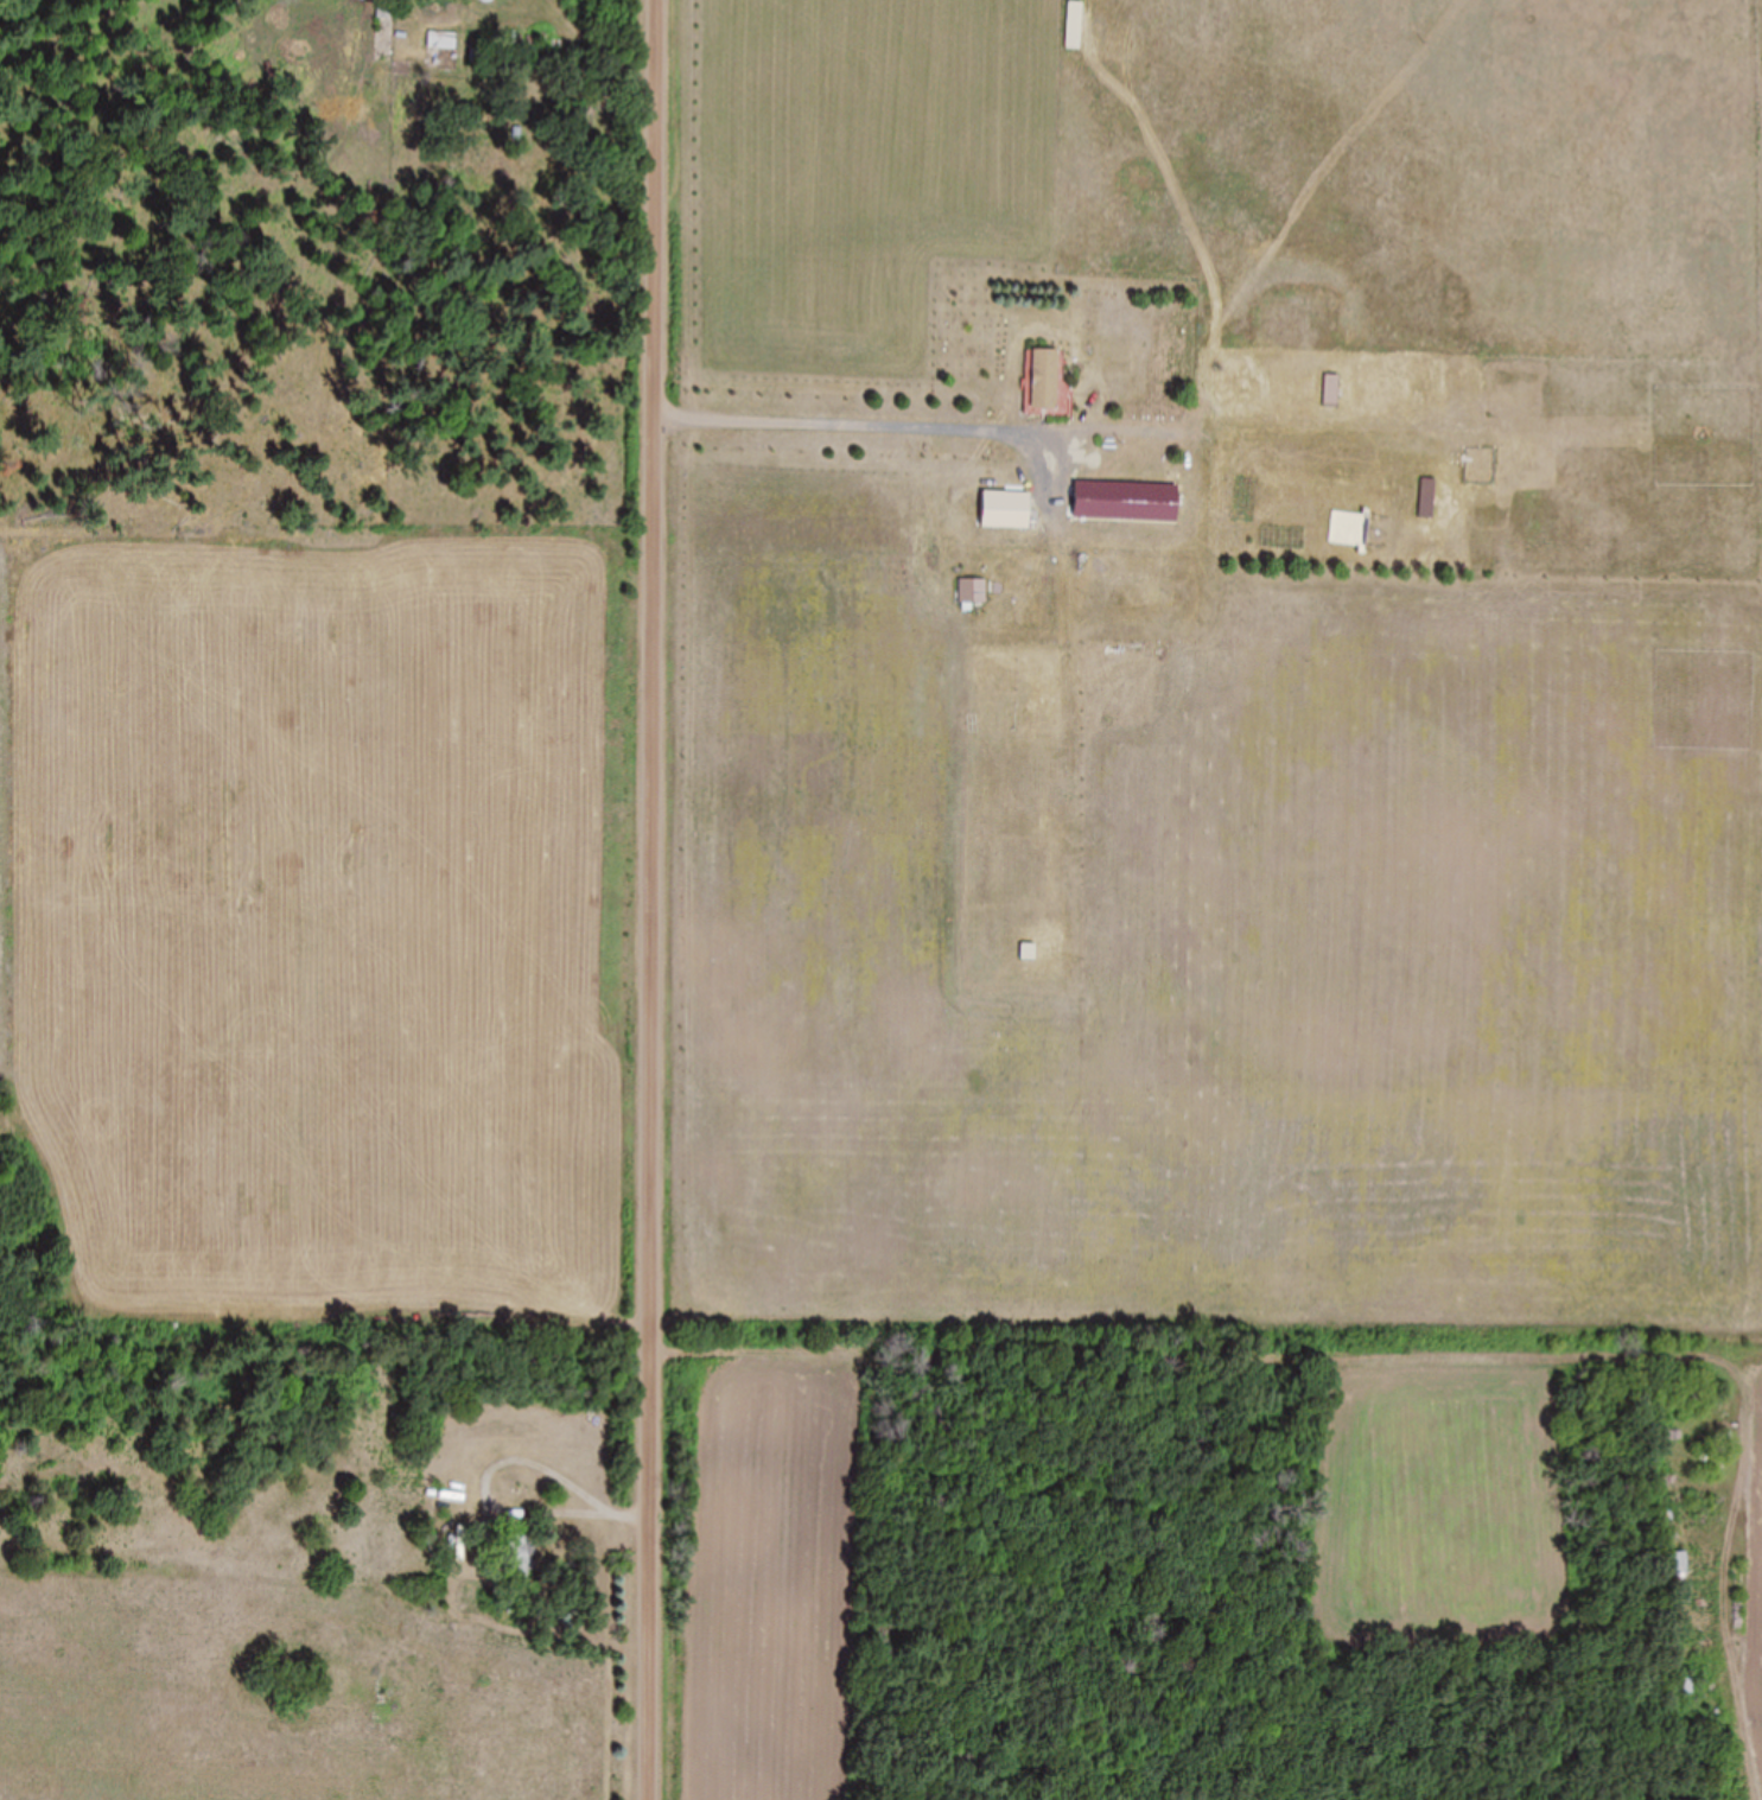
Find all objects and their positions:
building: (1074, 26)
building: (443, 42)
building: (1043, 379)
building: (1331, 390)
road: (844, 435)
building: (1427, 498)
building: (1125, 502)
building: (1005, 510)
road: (650, 899)
building: (1028, 952)
building: (520, 1559)
building: (1681, 1577)
building: (1684, 1686)

